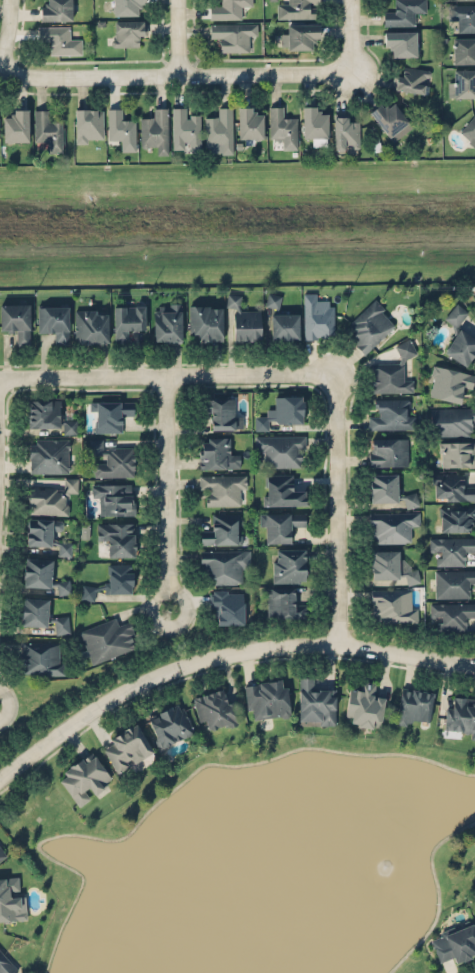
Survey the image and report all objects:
building: (126, 6)
building: (228, 8)
building: (297, 8)
building: (55, 9)
building: (403, 12)
building: (462, 15)
building: (128, 31)
road: (5, 33)
building: (231, 34)
building: (298, 35)
building: (59, 38)
road: (184, 40)
building: (400, 41)
building: (464, 50)
road: (359, 53)
building: (411, 78)
road: (166, 80)
building: (461, 83)
building: (388, 117)
building: (314, 121)
building: (250, 122)
building: (89, 124)
building: (16, 125)
building: (282, 126)
building: (121, 128)
building: (155, 128)
building: (48, 129)
building: (185, 129)
building: (219, 129)
building: (469, 129)
building: (346, 133)
building: (273, 300)
building: (456, 313)
building: (317, 316)
building: (127, 319)
building: (15, 320)
building: (206, 320)
building: (243, 320)
building: (53, 321)
building: (167, 323)
building: (284, 324)
building: (90, 325)
building: (368, 326)
building: (461, 346)
building: (404, 348)
road: (167, 375)
building: (388, 377)
building: (448, 382)
building: (281, 410)
building: (221, 412)
building: (49, 414)
building: (111, 414)
building: (392, 414)
building: (452, 421)
building: (281, 449)
building: (388, 451)
building: (215, 452)
building: (457, 453)
building: (48, 454)
building: (111, 459)
building: (383, 486)
building: (452, 486)
building: (224, 487)
building: (282, 489)
road: (167, 492)
building: (51, 496)
building: (114, 497)
building: (411, 499)
road: (335, 509)
building: (457, 519)
building: (279, 524)
building: (392, 525)
building: (222, 528)
building: (41, 529)
building: (116, 536)
building: (451, 548)
building: (224, 564)
building: (288, 564)
building: (384, 564)
building: (36, 571)
building: (411, 574)
building: (110, 580)
building: (452, 582)
building: (63, 586)
building: (283, 603)
building: (227, 606)
building: (392, 606)
building: (34, 610)
building: (452, 614)
building: (61, 624)
building: (107, 638)
road: (221, 654)
building: (40, 656)
building: (267, 698)
building: (314, 701)
building: (365, 704)
building: (413, 704)
building: (215, 707)
building: (460, 715)
building: (170, 724)
building: (125, 746)
building: (84, 776)
building: (2, 853)
fountain: (377, 869)
building: (11, 899)
building: (455, 941)
building: (6, 964)

